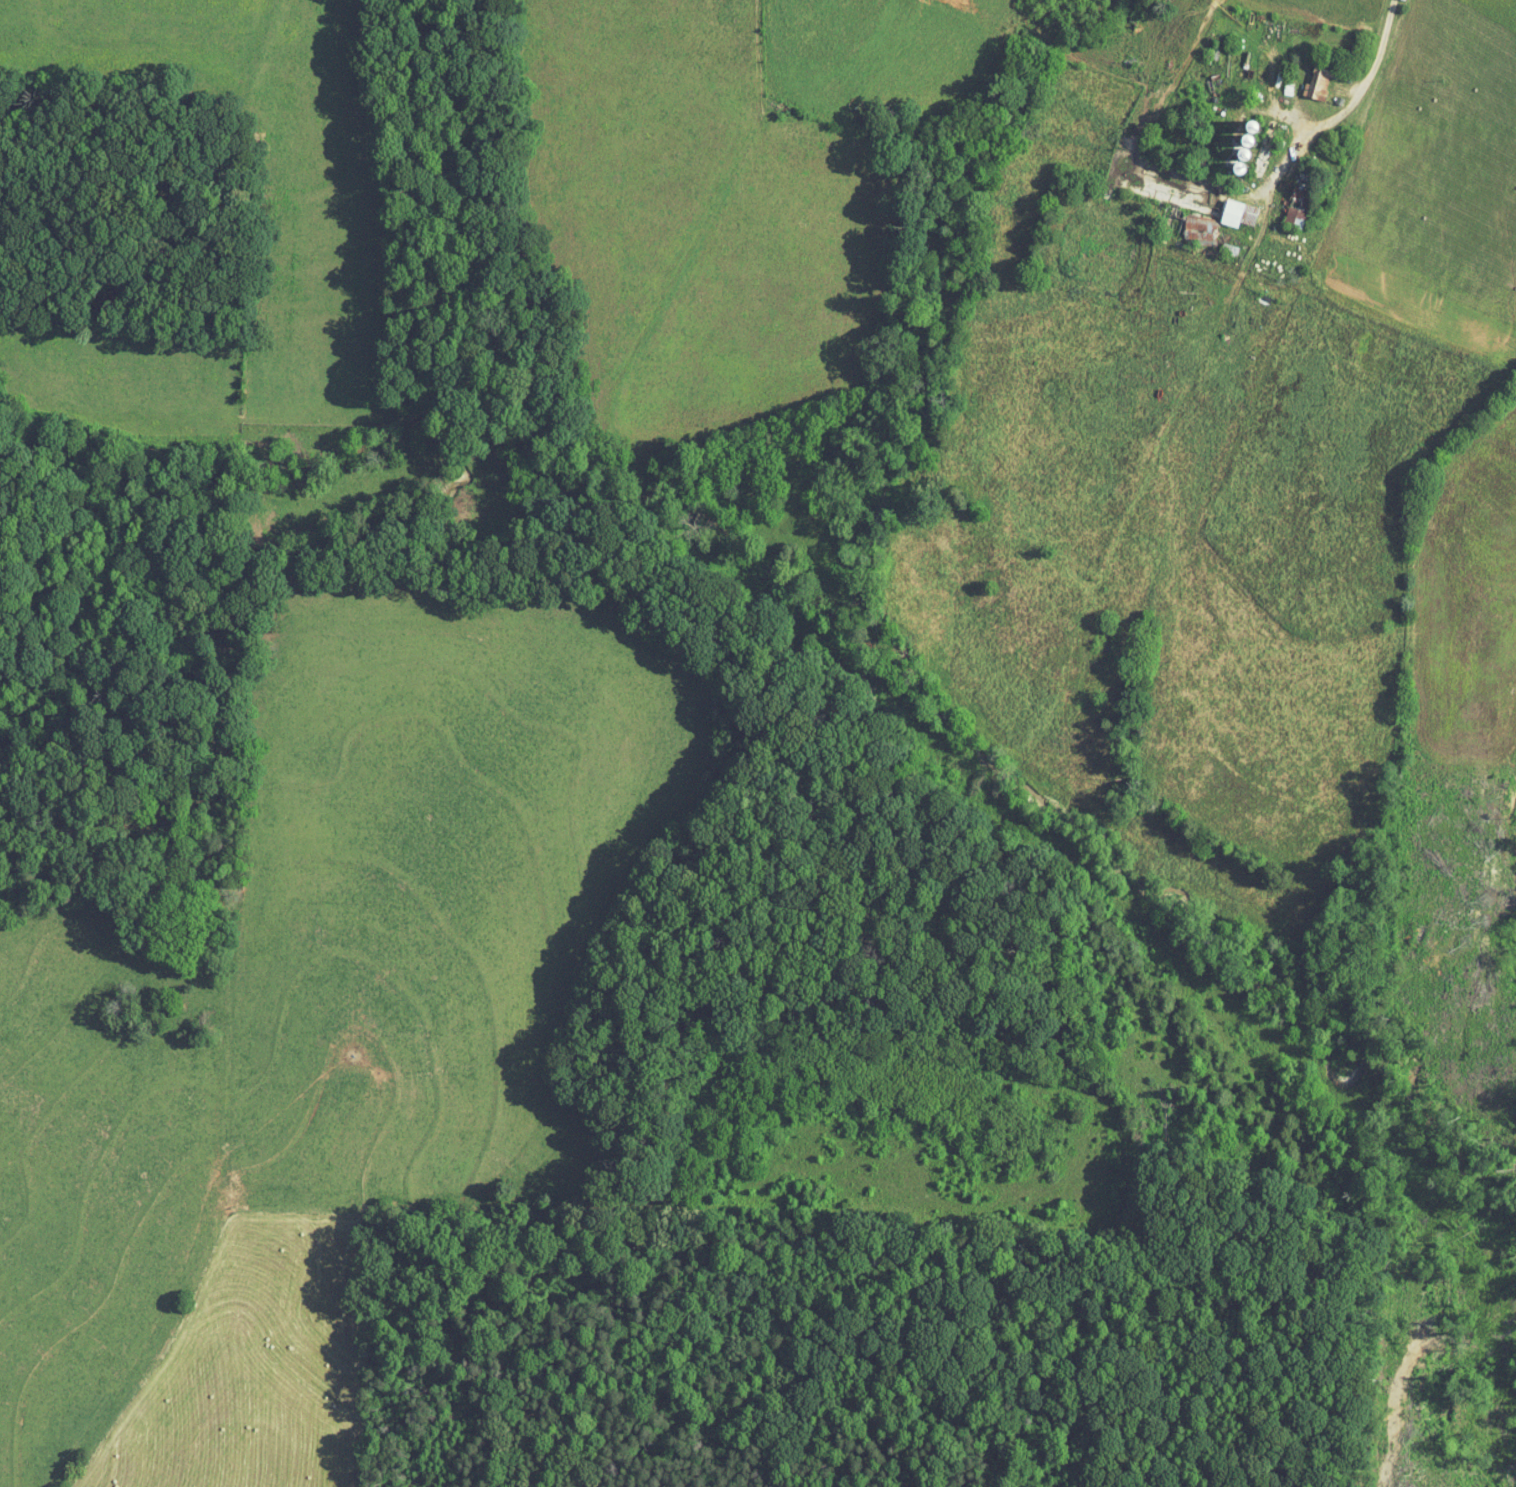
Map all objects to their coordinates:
road: (1371, 67)
building: (1319, 84)
building: (1302, 195)
building: (1239, 213)
building: (1202, 229)

